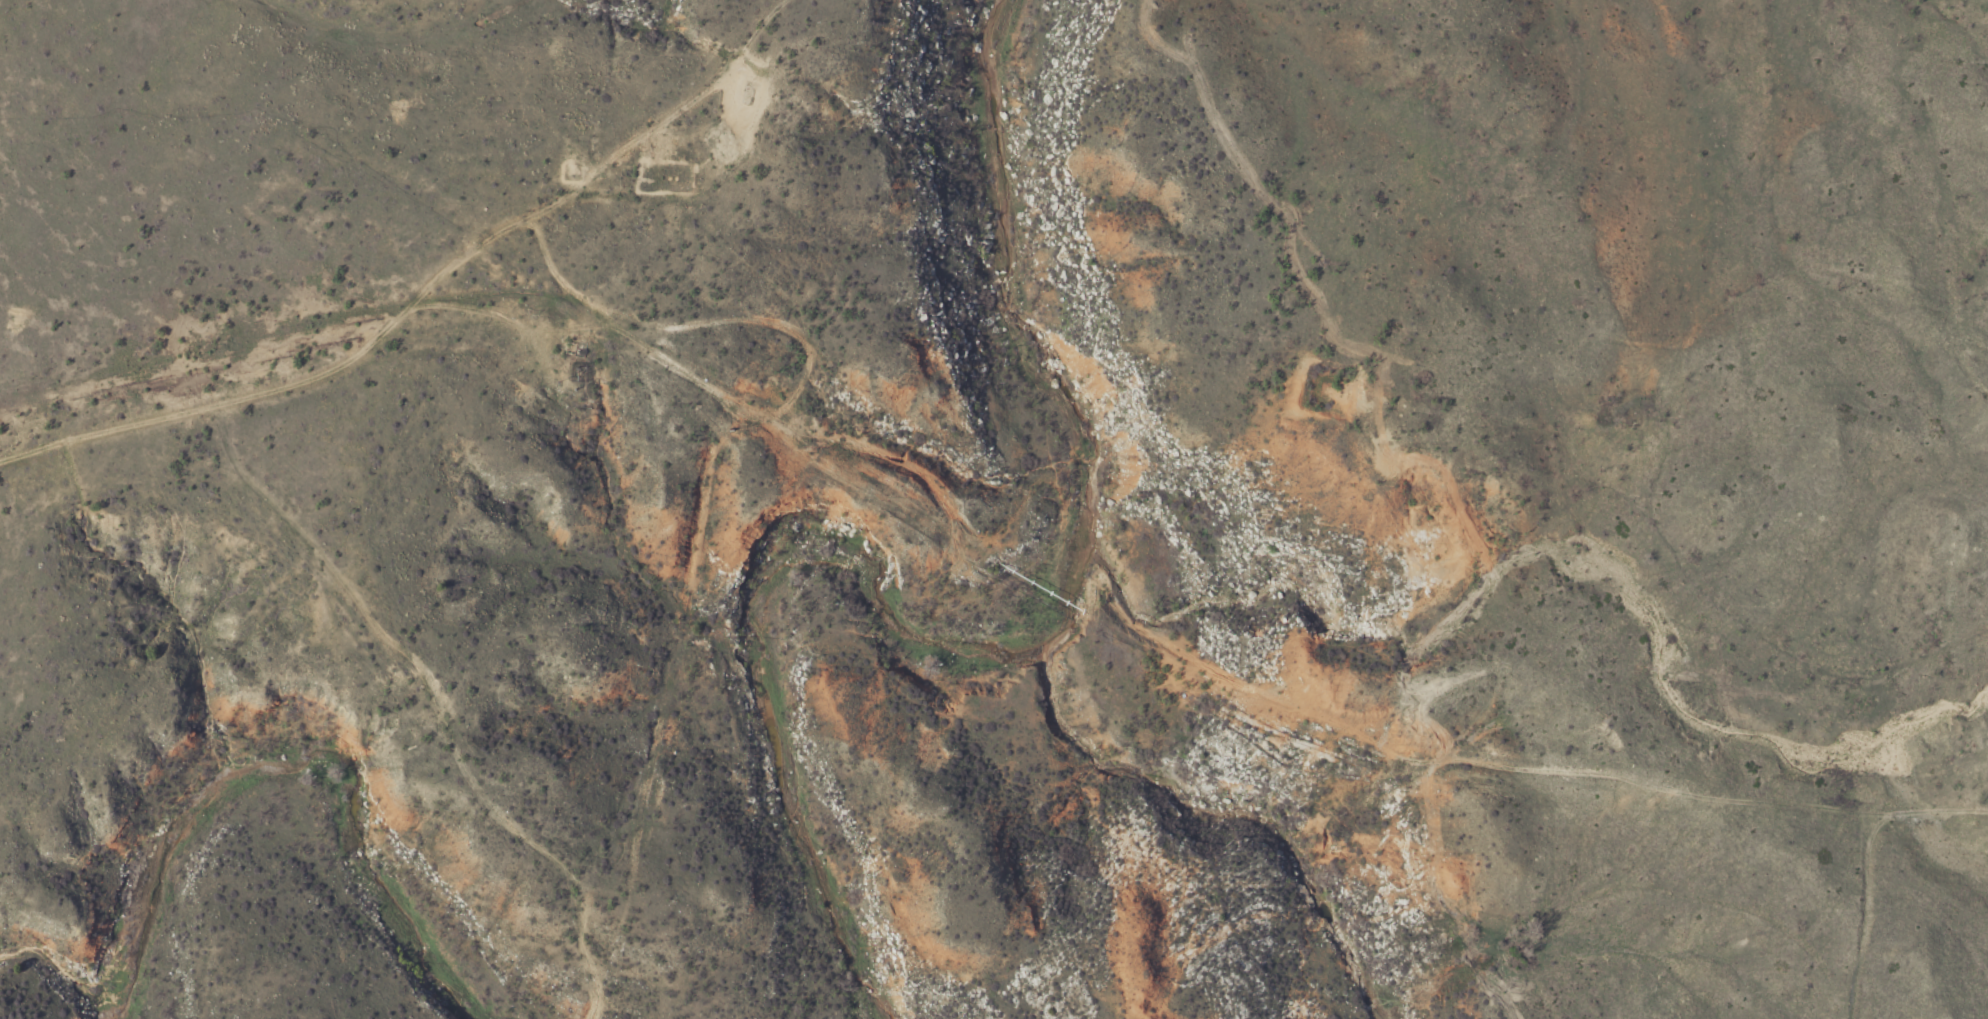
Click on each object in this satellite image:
road: (1852, 859)

